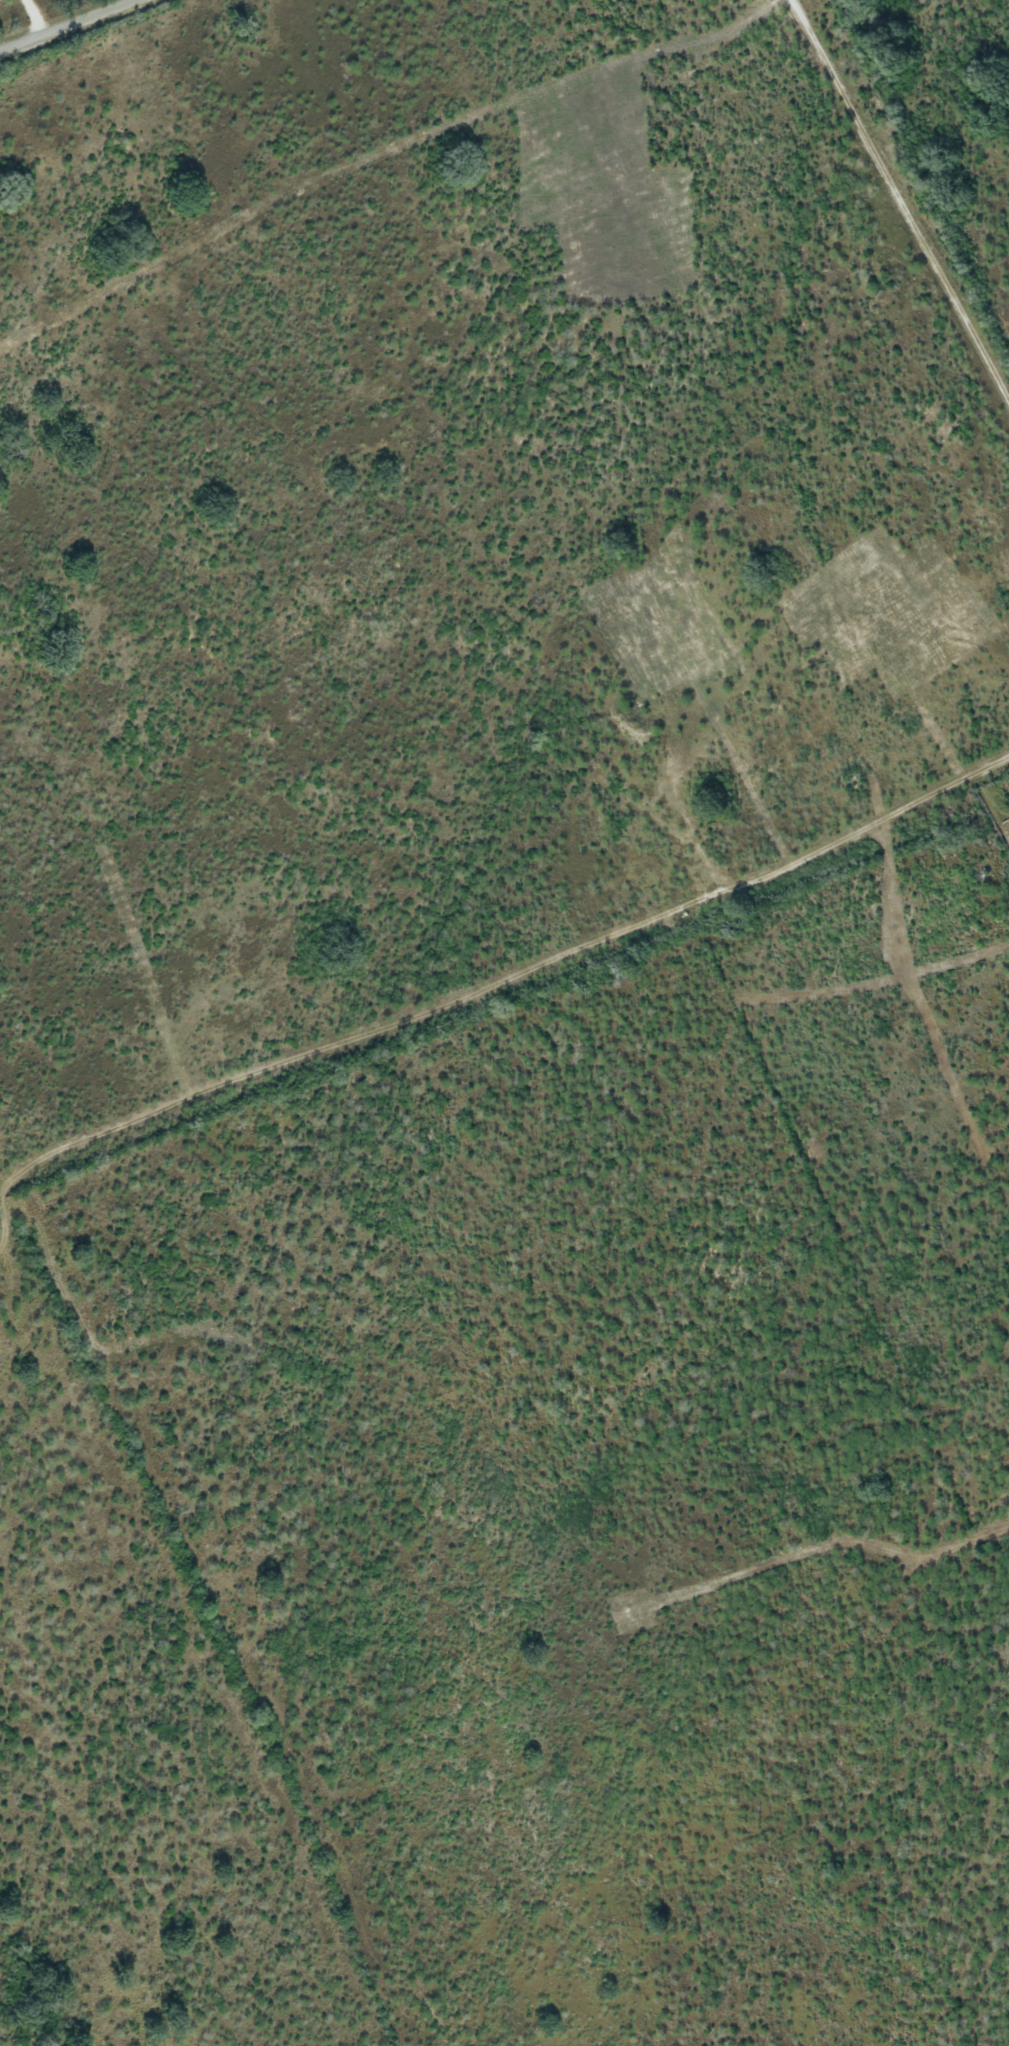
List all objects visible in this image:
road: (71, 27)

